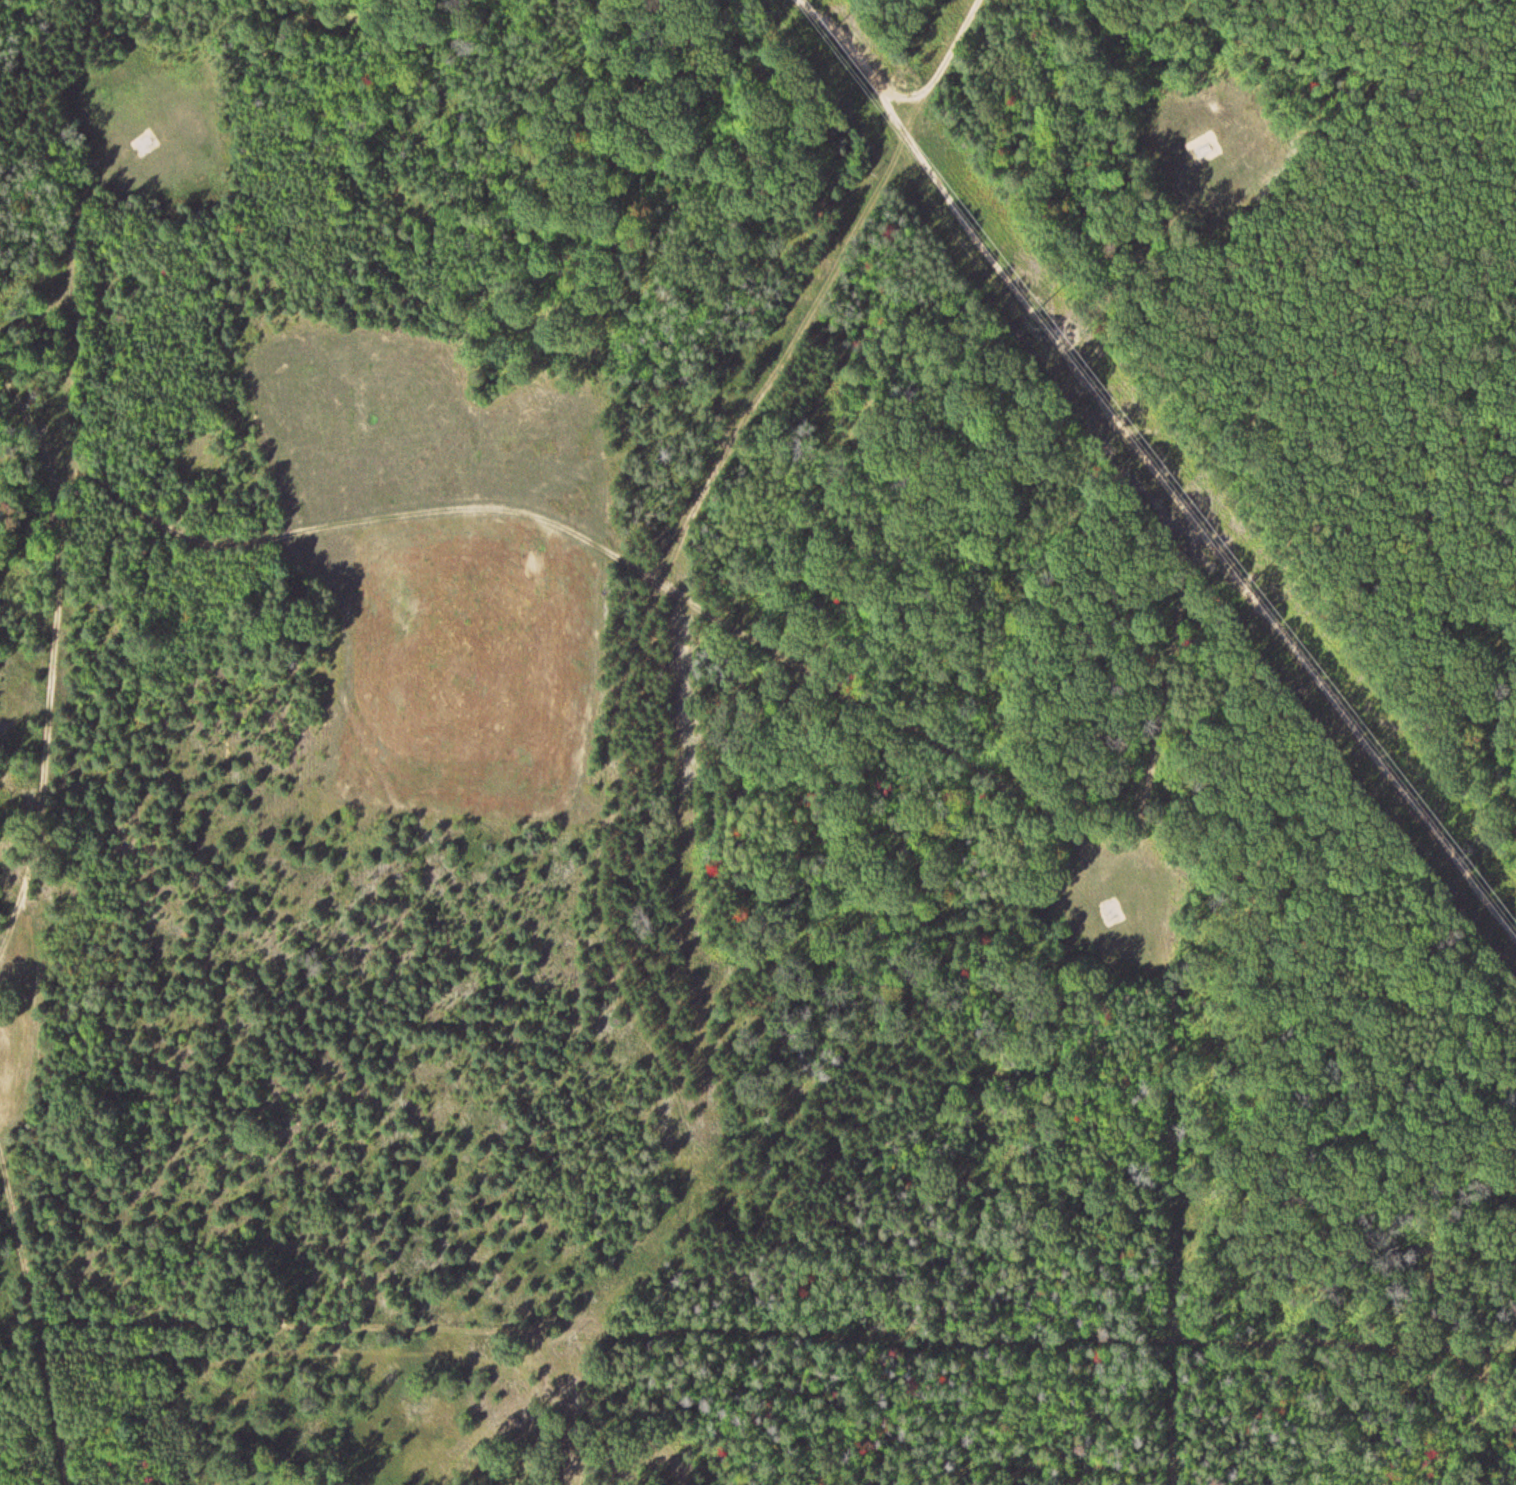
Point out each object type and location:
road: (853, 53)
road: (925, 53)
road: (292, 522)
road: (1202, 522)
road: (851, 699)
road: (48, 714)
road: (1171, 994)
road: (31, 1320)

